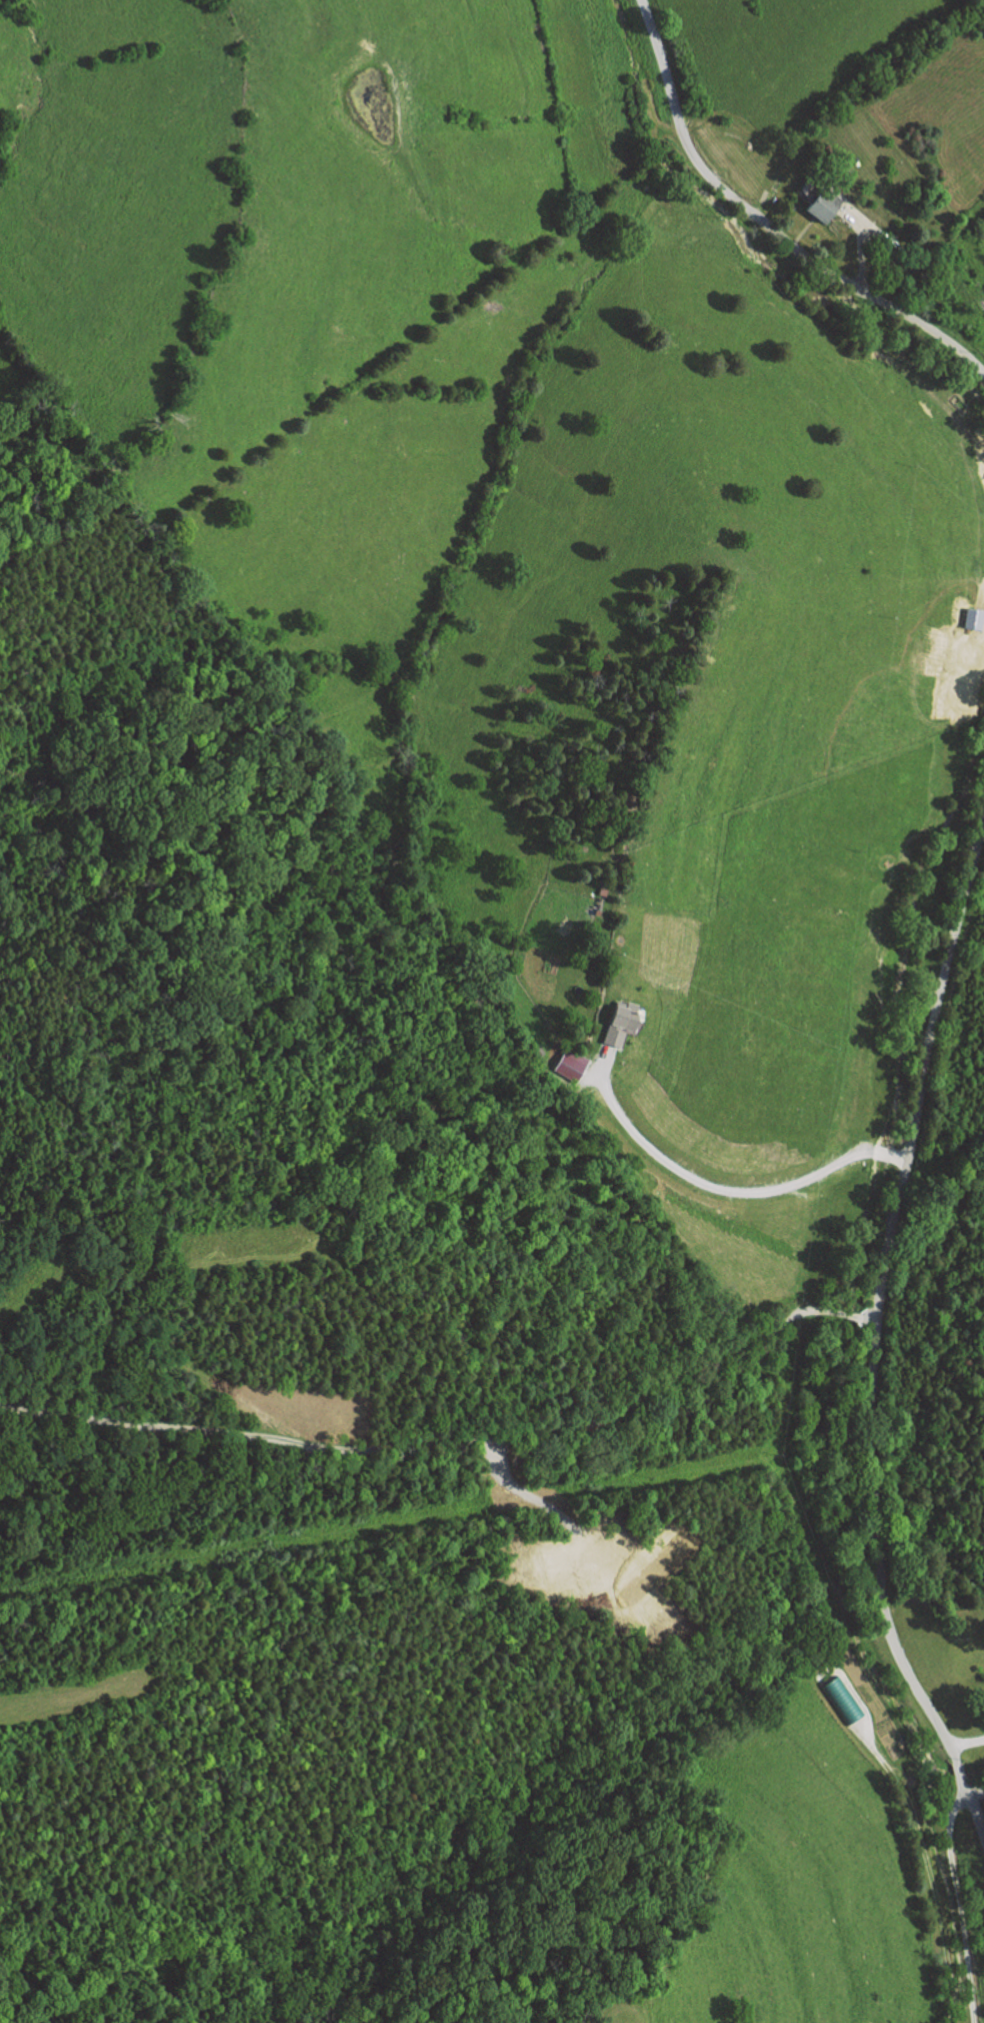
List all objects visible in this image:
building: (825, 204)
road: (767, 222)
road: (872, 230)
road: (861, 243)
building: (976, 617)
building: (604, 892)
building: (622, 1020)
building: (572, 1064)
road: (594, 1076)
road: (888, 1154)
road: (904, 1158)
road: (701, 1180)
road: (880, 1295)
road: (853, 1315)
road: (869, 1319)
road: (436, 1443)
building: (844, 1700)
road: (966, 1742)
road: (958, 1768)
road: (970, 1804)
road: (926, 1862)
road: (960, 1906)

